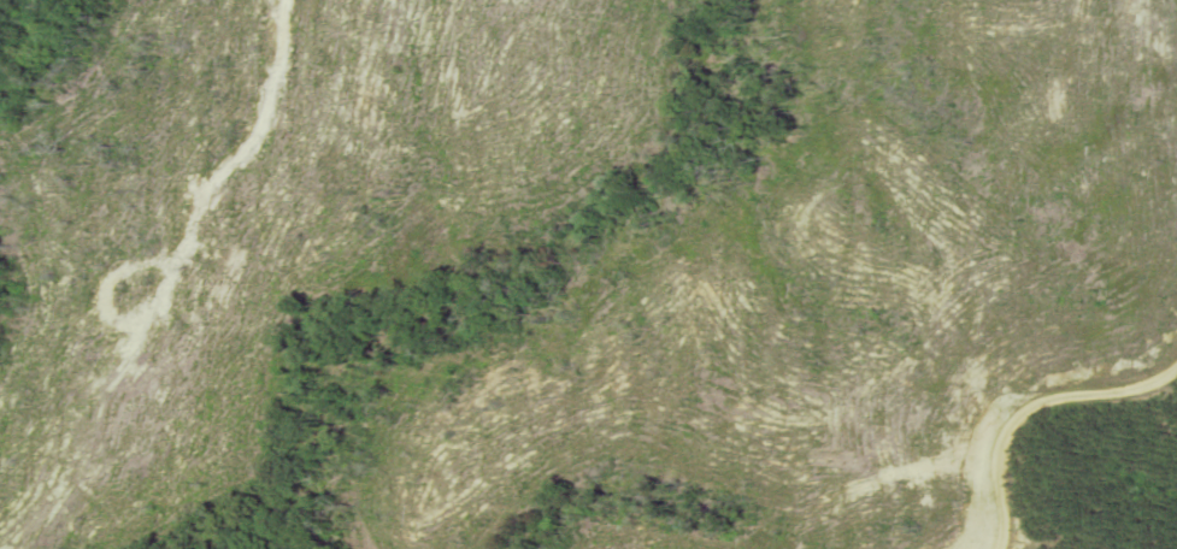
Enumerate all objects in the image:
road: (1024, 405)

